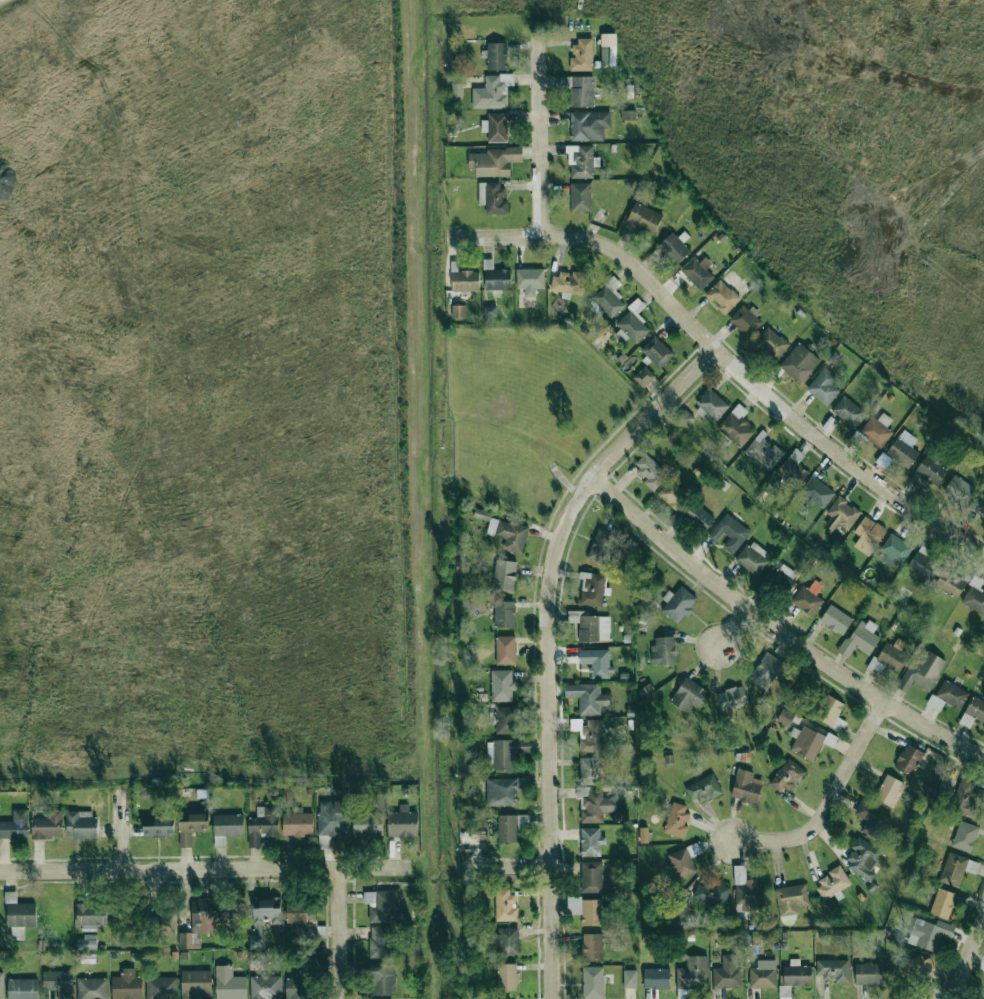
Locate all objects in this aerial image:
building: (607, 49)
building: (581, 55)
building: (496, 56)
building: (579, 90)
building: (492, 92)
building: (589, 125)
building: (495, 127)
road: (541, 130)
building: (494, 161)
building: (582, 161)
building: (492, 197)
building: (580, 197)
building: (644, 218)
building: (674, 247)
building: (697, 272)
building: (495, 277)
building: (530, 280)
building: (465, 281)
building: (722, 296)
building: (608, 298)
building: (459, 311)
building: (489, 312)
building: (746, 320)
building: (633, 322)
building: (771, 344)
building: (657, 351)
road: (723, 357)
building: (799, 363)
building: (644, 377)
building: (824, 386)
building: (713, 404)
building: (848, 411)
building: (736, 426)
building: (877, 430)
building: (903, 449)
building: (764, 451)
road: (603, 463)
building: (793, 469)
building: (931, 470)
building: (650, 471)
building: (959, 489)
building: (817, 492)
building: (673, 495)
building: (979, 505)
building: (698, 515)
building: (841, 515)
building: (730, 533)
building: (509, 534)
building: (868, 535)
building: (601, 546)
building: (894, 551)
building: (753, 557)
building: (923, 562)
building: (504, 575)
building: (781, 577)
building: (950, 583)
building: (592, 589)
building: (974, 596)
building: (808, 598)
building: (678, 604)
building: (504, 614)
building: (836, 620)
building: (591, 626)
road: (735, 632)
road: (778, 632)
building: (860, 639)
building: (505, 650)
building: (663, 651)
building: (894, 654)
building: (597, 662)
building: (766, 670)
building: (922, 672)
building: (502, 685)
building: (688, 695)
building: (948, 696)
building: (587, 698)
building: (732, 698)
building: (973, 712)
building: (831, 713)
building: (785, 717)
building: (506, 720)
building: (809, 742)
building: (507, 753)
building: (909, 759)
building: (590, 770)
building: (788, 776)
building: (746, 787)
building: (704, 789)
building: (889, 790)
building: (502, 792)
building: (965, 796)
road: (548, 803)
road: (828, 803)
building: (594, 804)
building: (333, 818)
building: (872, 819)
building: (523, 820)
building: (677, 820)
building: (402, 822)
building: (297, 823)
building: (367, 823)
building: (15, 825)
building: (48, 825)
building: (81, 825)
building: (228, 825)
building: (263, 825)
building: (191, 826)
building: (158, 827)
building: (507, 828)
building: (965, 836)
building: (219, 842)
building: (324, 842)
building: (591, 842)
building: (863, 859)
building: (682, 863)
road: (507, 867)
road: (207, 869)
building: (592, 877)
building: (833, 882)
building: (747, 891)
building: (712, 894)
building: (791, 899)
building: (942, 903)
building: (383, 905)
building: (506, 906)
building: (574, 908)
building: (591, 912)
building: (19, 915)
building: (91, 916)
building: (302, 917)
building: (264, 920)
building: (203, 921)
building: (167, 922)
road: (337, 933)
building: (930, 933)
building: (506, 940)
building: (87, 942)
building: (380, 942)
building: (591, 947)
road: (966, 955)
building: (833, 970)
building: (909, 970)
building: (693, 973)
building: (728, 973)
building: (797, 974)
building: (868, 974)
building: (763, 975)
building: (507, 977)
building: (656, 978)
building: (630, 979)
building: (383, 980)
building: (593, 982)
building: (58, 983)
building: (302, 983)
building: (196, 984)
building: (229, 984)
building: (127, 985)
building: (1, 986)
building: (266, 987)
building: (92, 988)
building: (162, 988)
building: (22, 989)
building: (785, 992)
building: (683, 994)
building: (505, 998)

